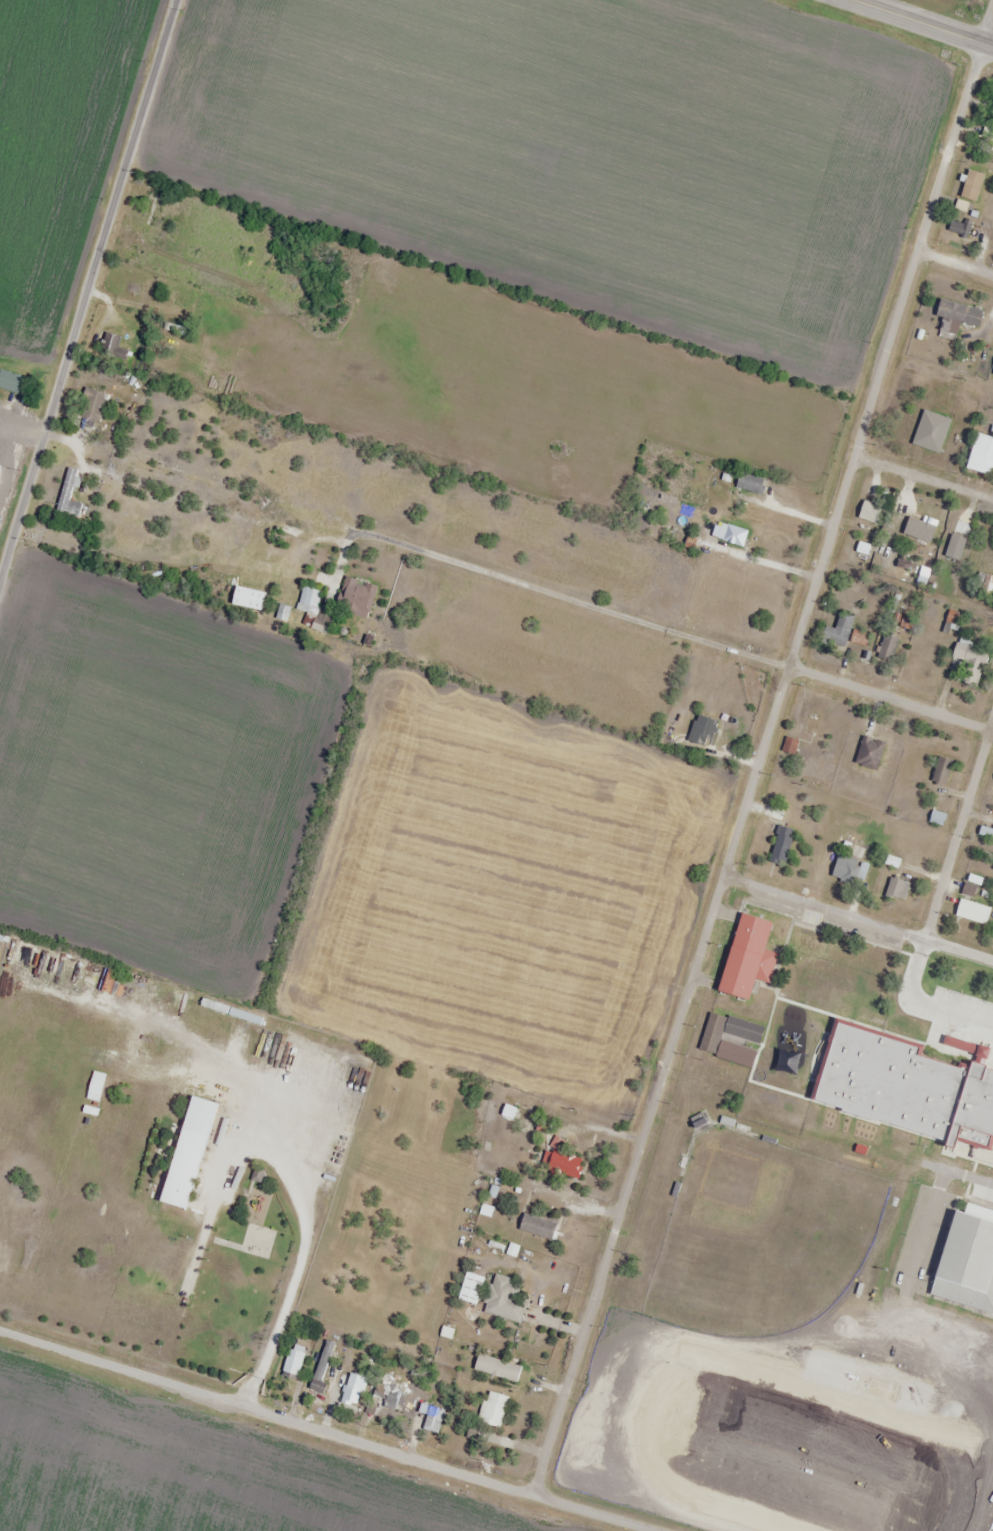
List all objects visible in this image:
road: (919, 23)
road: (988, 27)
building: (970, 185)
building: (957, 227)
building: (990, 237)
road: (956, 261)
road: (88, 297)
building: (954, 316)
building: (110, 347)
road: (886, 357)
building: (992, 376)
building: (8, 381)
building: (90, 405)
building: (925, 431)
building: (982, 455)
building: (749, 484)
road: (923, 487)
building: (867, 511)
building: (731, 536)
building: (885, 545)
building: (917, 577)
road: (520, 586)
building: (985, 586)
building: (241, 587)
building: (303, 596)
building: (355, 597)
building: (837, 631)
building: (860, 637)
building: (886, 649)
building: (966, 654)
building: (813, 722)
building: (700, 731)
building: (868, 752)
building: (940, 771)
building: (985, 834)
building: (780, 845)
building: (846, 870)
building: (897, 889)
building: (971, 912)
road: (857, 926)
road: (929, 942)
building: (807, 943)
building: (745, 957)
building: (792, 1016)
building: (935, 1017)
building: (970, 1026)
building: (120, 1042)
building: (778, 1069)
building: (932, 1070)
road: (659, 1083)
building: (93, 1086)
building: (815, 1088)
building: (773, 1097)
building: (910, 1102)
building: (974, 1108)
building: (509, 1112)
building: (189, 1151)
road: (930, 1165)
building: (561, 1166)
building: (534, 1226)
park: (763, 1233)
road: (177, 1255)
building: (965, 1260)
building: (505, 1300)
building: (291, 1360)
building: (320, 1366)
building: (495, 1369)
building: (351, 1389)
building: (392, 1396)
building: (492, 1409)
road: (324, 1433)
crop: (195, 1473)

